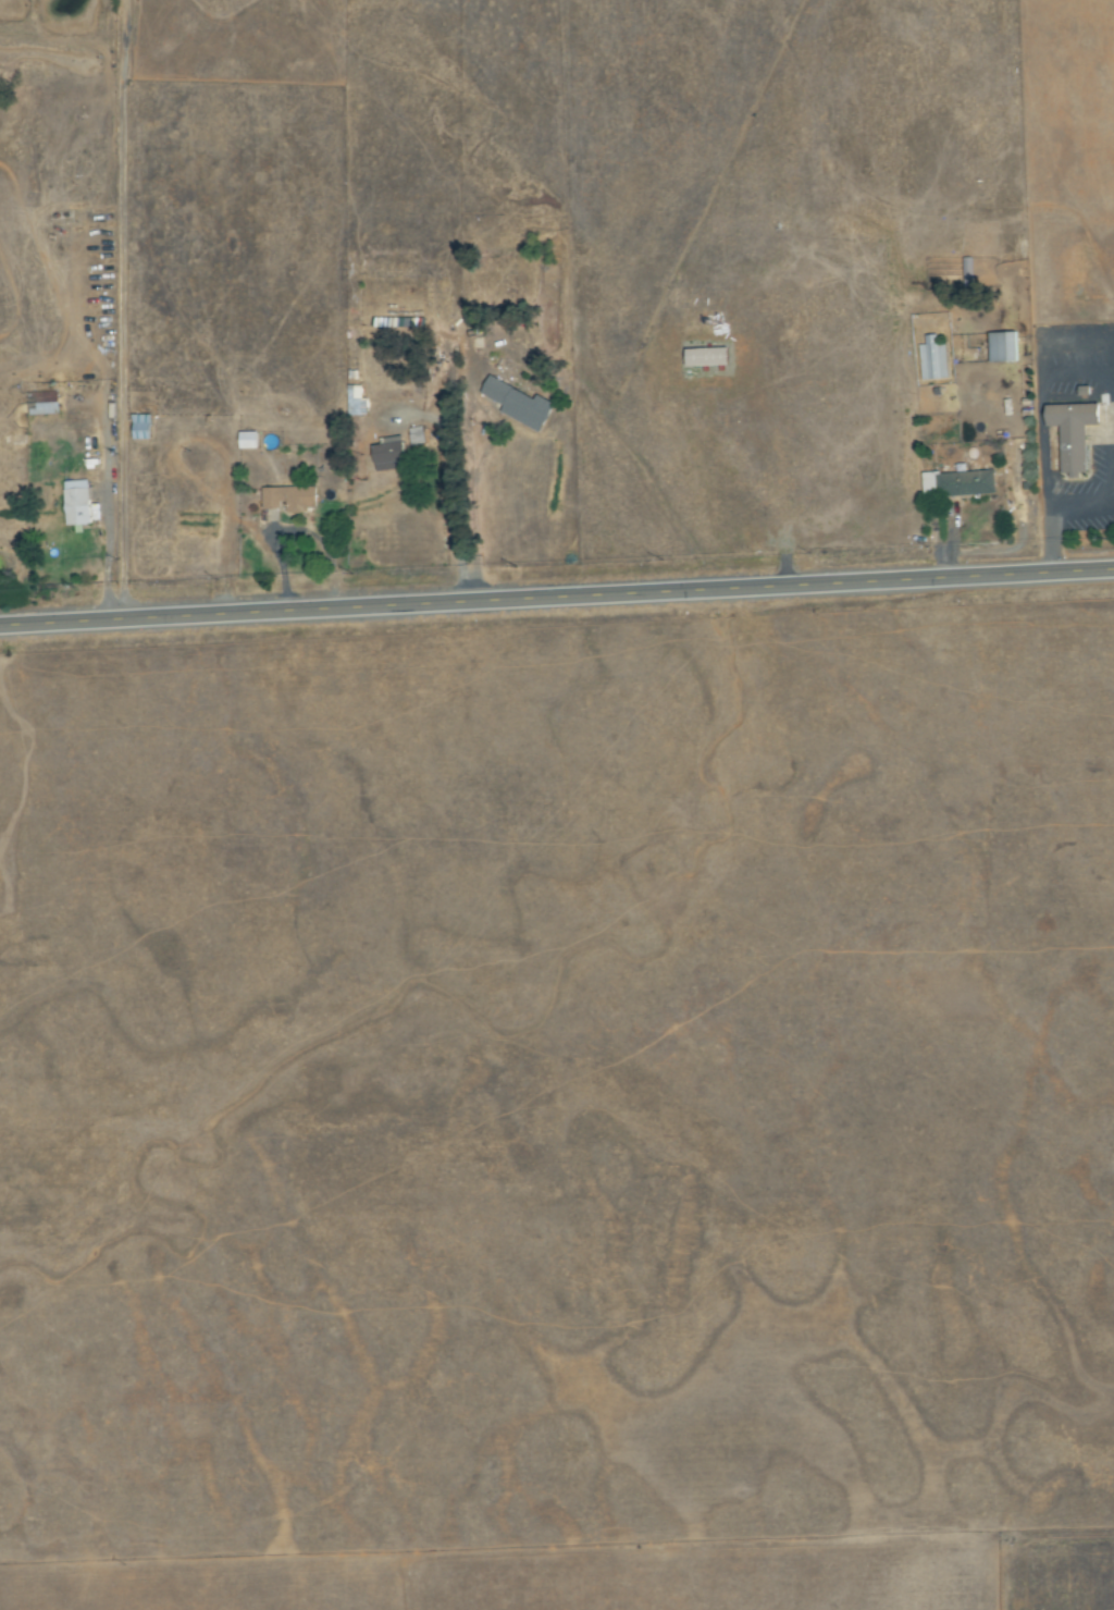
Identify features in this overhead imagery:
road: (122, 310)
building: (1003, 347)
building: (933, 359)
building: (42, 403)
building: (519, 404)
building: (143, 427)
building: (1073, 433)
building: (248, 441)
building: (396, 451)
building: (960, 483)
building: (289, 499)
building: (77, 503)
road: (104, 511)
road: (556, 598)

